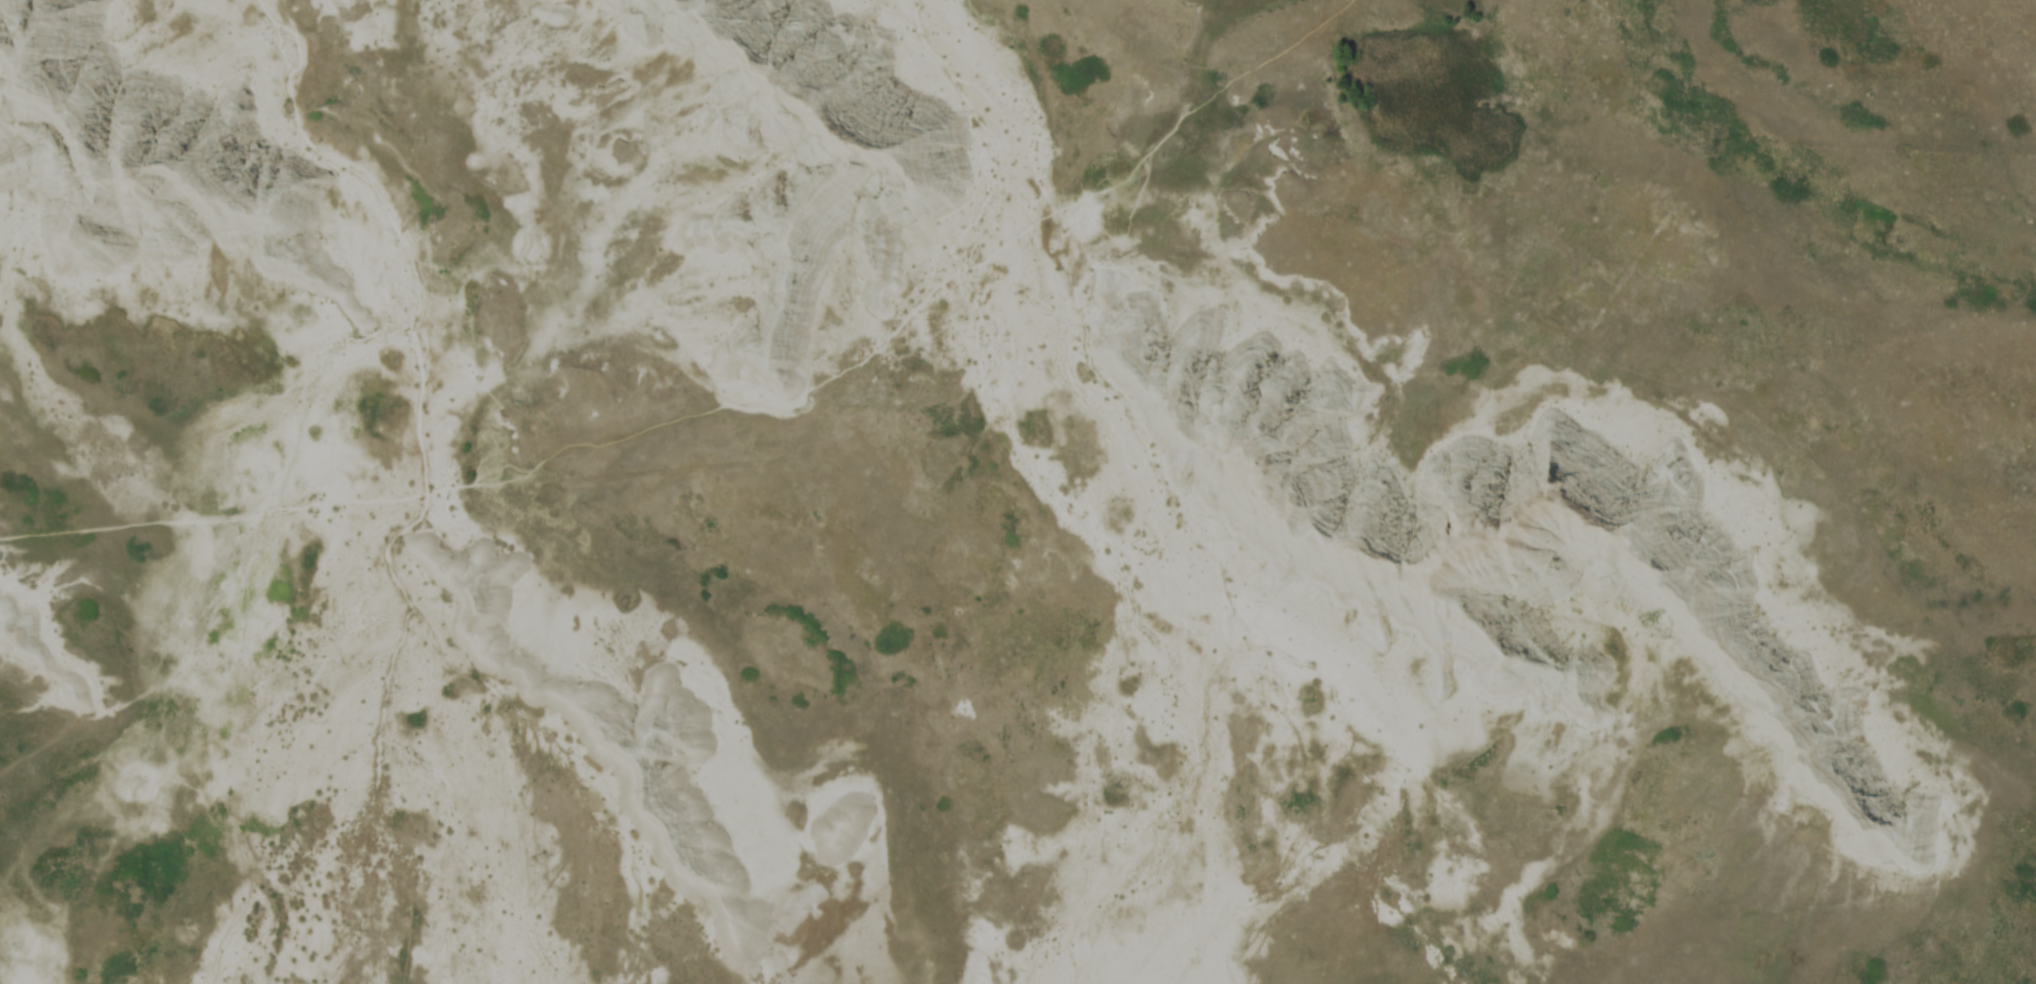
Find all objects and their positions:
road: (2030, 679)

